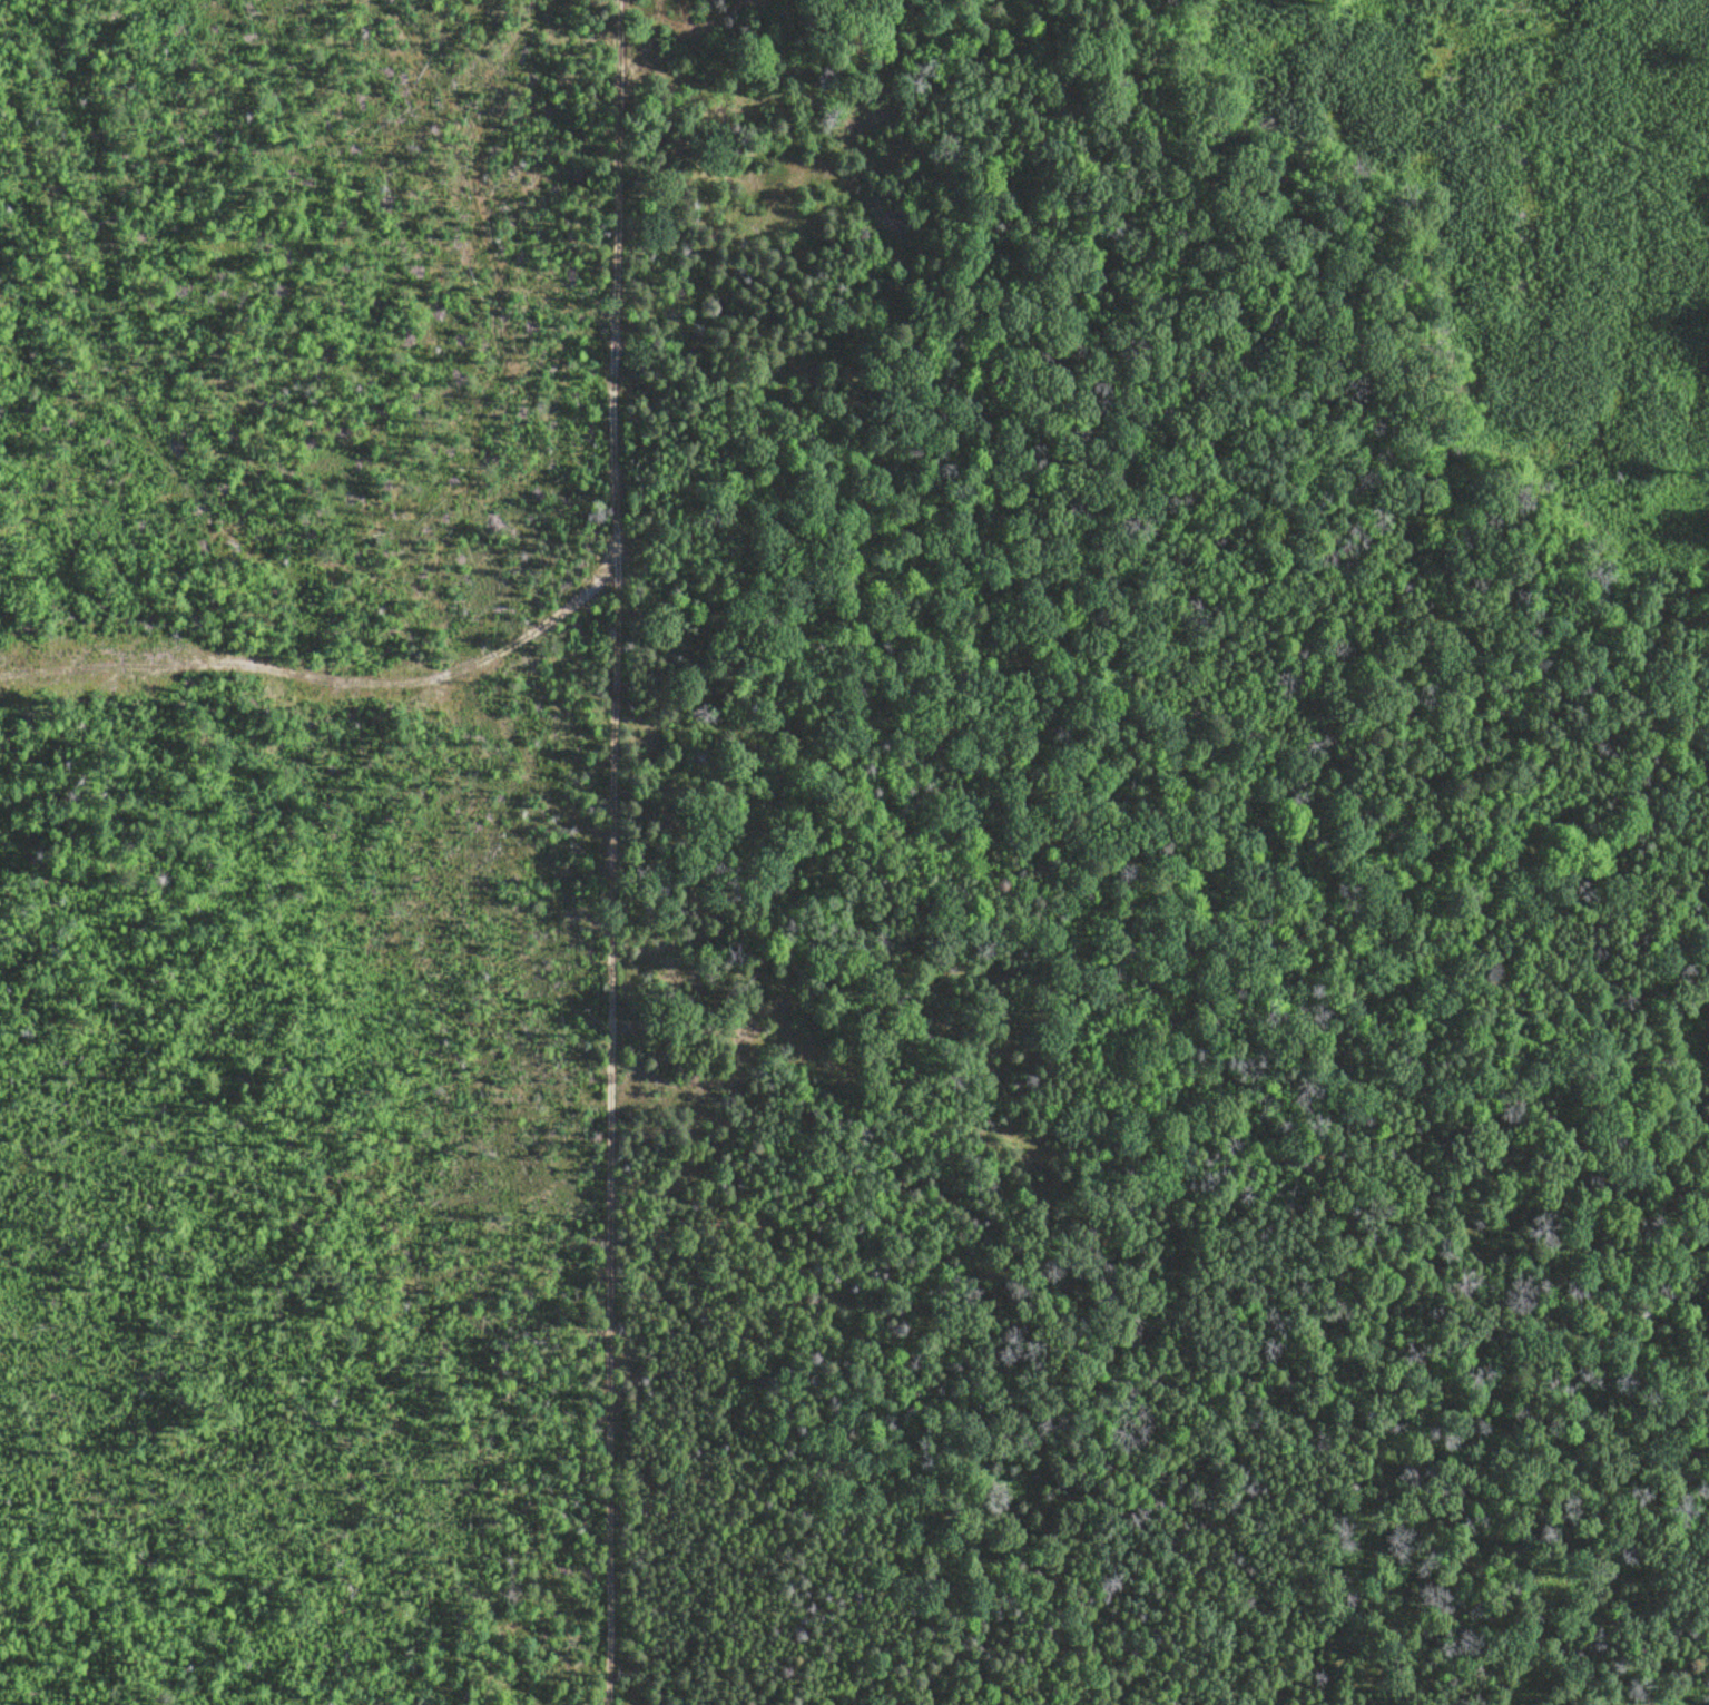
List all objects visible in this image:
road: (618, 502)
road: (611, 1355)

